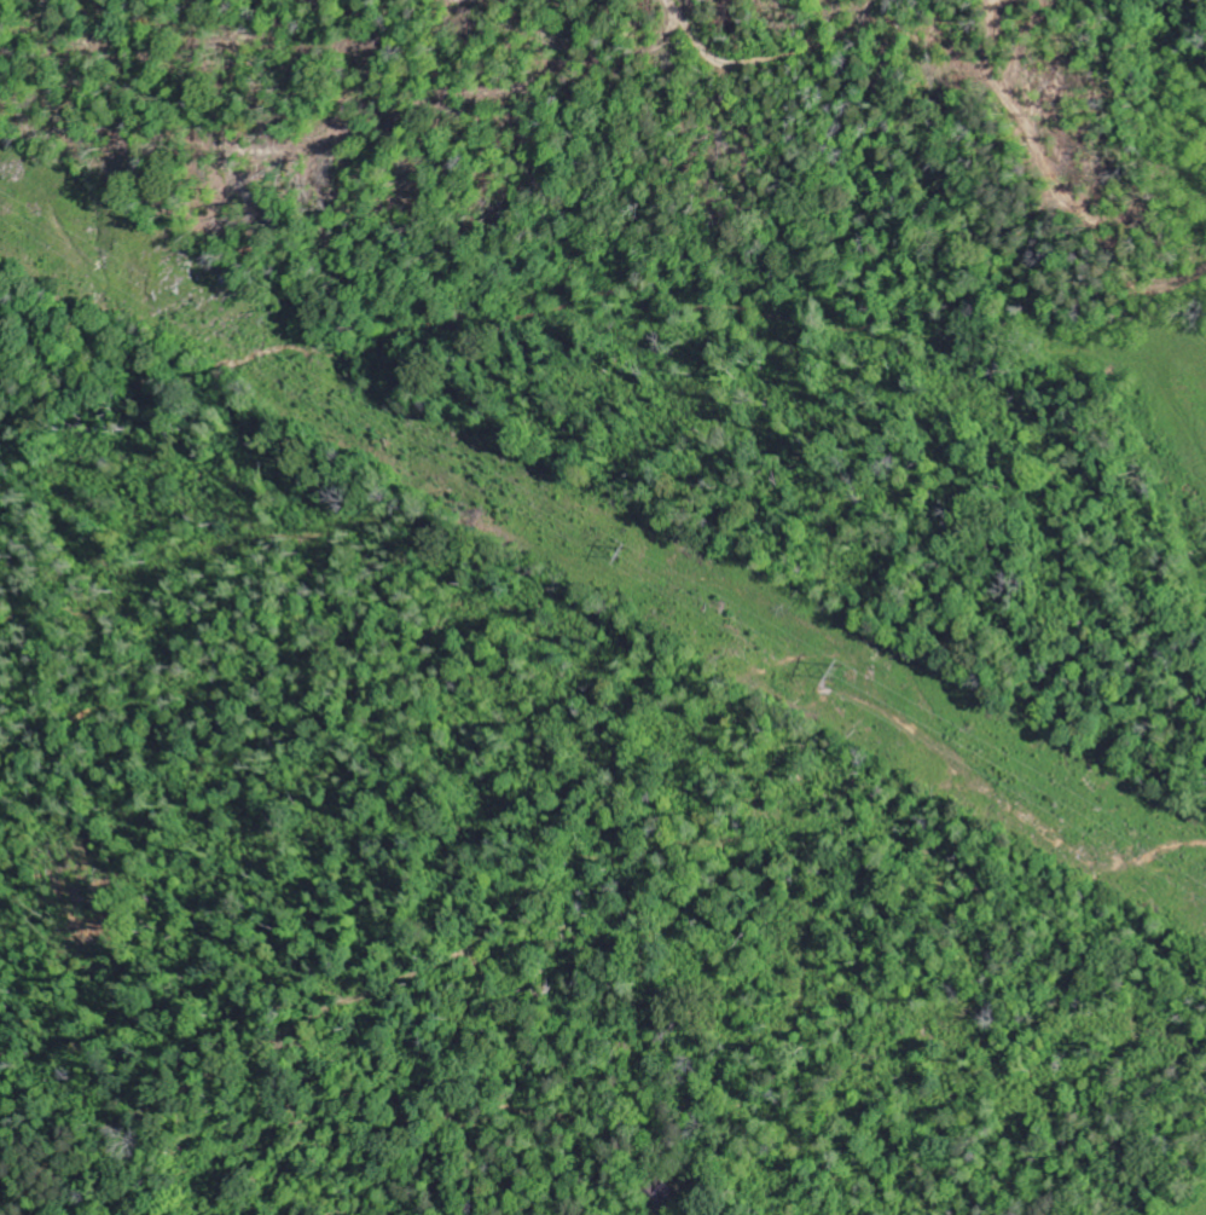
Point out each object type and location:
power tower: (627, 556)
power tower: (841, 671)

